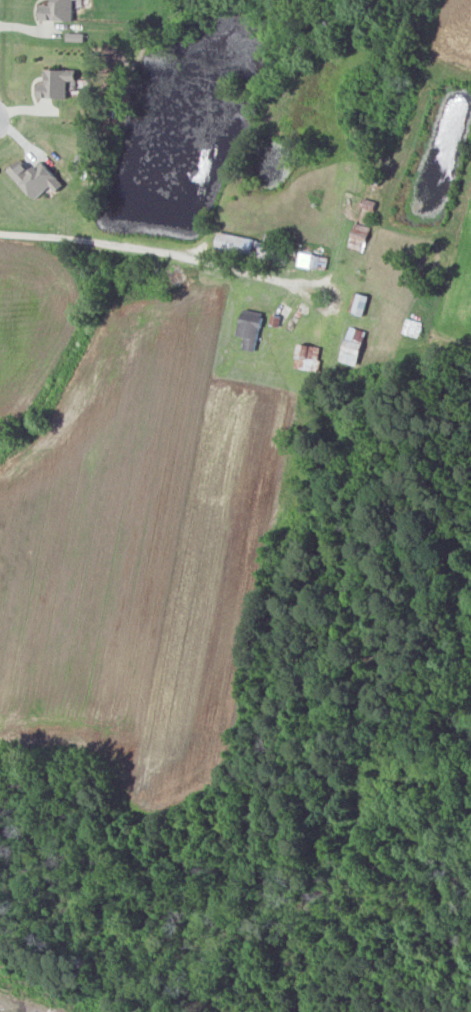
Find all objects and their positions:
building: (58, 11)
building: (57, 84)
building: (36, 178)
building: (359, 236)
building: (244, 245)
road: (146, 248)
building: (313, 260)
building: (360, 303)
building: (251, 328)
building: (354, 345)
building: (308, 356)

